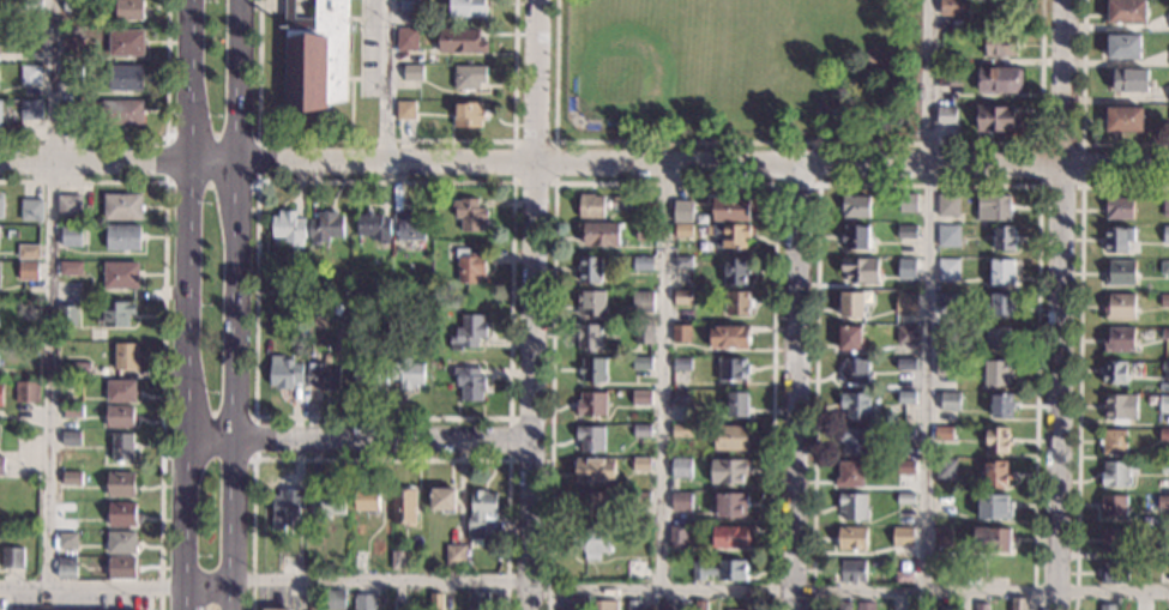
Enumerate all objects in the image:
building: (32, 5)
building: (409, 5)
building: (73, 6)
building: (952, 7)
building: (469, 8)
building: (129, 10)
building: (1126, 11)
building: (954, 23)
building: (406, 38)
building: (460, 40)
building: (30, 41)
building: (126, 43)
building: (1001, 43)
building: (1122, 46)
building: (72, 47)
building: (314, 55)
building: (948, 59)
park: (658, 62)
building: (412, 72)
building: (31, 74)
building: (72, 74)
building: (470, 77)
building: (947, 77)
building: (126, 78)
building: (999, 78)
building: (1128, 79)
road: (385, 83)
road: (822, 93)
building: (31, 109)
building: (405, 110)
building: (70, 111)
building: (121, 111)
building: (0, 113)
building: (469, 114)
building: (946, 115)
road: (1081, 115)
building: (996, 119)
building: (1123, 119)
road: (150, 137)
road: (386, 140)
road: (799, 143)
road: (584, 165)
road: (257, 180)
road: (553, 183)
road: (664, 183)
road: (797, 185)
road: (928, 186)
road: (1079, 186)
building: (621, 203)
building: (908, 203)
building: (1, 204)
building: (947, 205)
building: (70, 206)
building: (590, 206)
building: (855, 206)
building: (993, 206)
building: (1165, 206)
building: (122, 207)
building: (1119, 207)
building: (730, 209)
building: (31, 210)
building: (677, 210)
building: (469, 213)
building: (409, 225)
building: (288, 227)
building: (325, 227)
building: (373, 227)
building: (685, 230)
building: (645, 231)
building: (905, 231)
building: (598, 232)
building: (729, 234)
building: (1165, 234)
building: (948, 235)
building: (71, 236)
building: (856, 236)
building: (122, 237)
building: (1004, 237)
building: (1117, 238)
building: (29, 252)
building: (682, 261)
building: (0, 264)
building: (643, 264)
building: (469, 265)
building: (905, 267)
building: (1164, 267)
building: (71, 268)
building: (589, 268)
building: (947, 268)
building: (860, 270)
building: (28, 271)
building: (735, 271)
building: (1001, 271)
building: (1120, 272)
building: (120, 276)
building: (311, 278)
building: (288, 286)
road: (49, 292)
road: (189, 294)
building: (644, 294)
road: (928, 294)
building: (682, 296)
building: (905, 297)
building: (946, 298)
building: (1164, 300)
building: (591, 302)
building: (739, 302)
building: (850, 303)
building: (1001, 303)
road: (237, 304)
building: (380, 304)
road: (535, 304)
road: (1061, 304)
building: (399, 306)
building: (435, 306)
building: (1119, 306)
building: (28, 310)
building: (115, 313)
road: (163, 313)
building: (67, 315)
building: (641, 318)
building: (468, 331)
building: (644, 333)
building: (681, 333)
building: (1164, 333)
building: (905, 334)
building: (945, 334)
building: (589, 336)
building: (729, 336)
building: (850, 338)
building: (999, 338)
building: (1119, 339)
building: (311, 342)
road: (1079, 354)
building: (126, 356)
building: (641, 363)
building: (681, 363)
building: (905, 363)
building: (944, 367)
building: (1165, 368)
building: (80, 369)
building: (592, 369)
building: (733, 369)
building: (855, 370)
building: (285, 372)
building: (1115, 372)
building: (406, 373)
building: (996, 373)
building: (370, 374)
building: (323, 376)
road: (663, 379)
building: (469, 382)
road: (796, 388)
building: (72, 389)
building: (120, 391)
building: (26, 392)
building: (1, 393)
building: (641, 397)
building: (680, 397)
building: (905, 397)
building: (950, 400)
building: (591, 403)
building: (737, 404)
building: (1163, 404)
building: (856, 405)
building: (1002, 405)
building: (1120, 406)
building: (72, 411)
building: (119, 416)
road: (508, 418)
building: (641, 429)
building: (681, 429)
building: (903, 431)
building: (944, 431)
building: (1163, 434)
building: (590, 437)
building: (730, 437)
building: (71, 439)
road: (254, 439)
building: (854, 440)
building: (996, 441)
building: (1113, 441)
road: (361, 442)
building: (122, 446)
road: (379, 459)
road: (508, 460)
building: (641, 464)
building: (1, 465)
building: (1164, 466)
building: (681, 467)
building: (905, 467)
building: (593, 469)
building: (946, 469)
building: (729, 471)
building: (851, 473)
building: (1117, 473)
building: (995, 475)
building: (72, 478)
building: (121, 484)
building: (19, 490)
building: (640, 496)
building: (905, 496)
building: (442, 499)
building: (681, 500)
building: (367, 501)
building: (1162, 501)
building: (945, 502)
building: (327, 505)
building: (590, 505)
building: (730, 505)
building: (404, 506)
building: (852, 506)
building: (1113, 506)
building: (285, 507)
building: (994, 507)
building: (481, 511)
building: (121, 514)
building: (677, 534)
building: (902, 536)
building: (730, 537)
building: (941, 537)
building: (852, 538)
building: (1113, 539)
building: (67, 540)
building: (992, 540)
building: (592, 542)
building: (121, 543)
building: (1163, 548)
building: (456, 554)
building: (12, 557)
building: (360, 560)
building: (397, 560)
building: (66, 567)
building: (122, 568)
building: (638, 569)
building: (719, 569)
building: (850, 570)
building: (1115, 572)
building: (904, 575)
building: (1163, 576)
road: (360, 582)
road: (94, 587)
road: (850, 590)
road: (187, 599)
building: (333, 599)
building: (435, 600)
building: (478, 600)
building: (364, 602)
building: (397, 602)
building: (578, 603)
building: (1018, 603)
building: (665, 604)
building: (700, 604)
building: (914, 604)
building: (604, 605)
building: (633, 605)
building: (844, 605)
building: (864, 605)
building: (981, 606)
building: (1108, 606)
building: (275, 608)
building: (946, 608)

